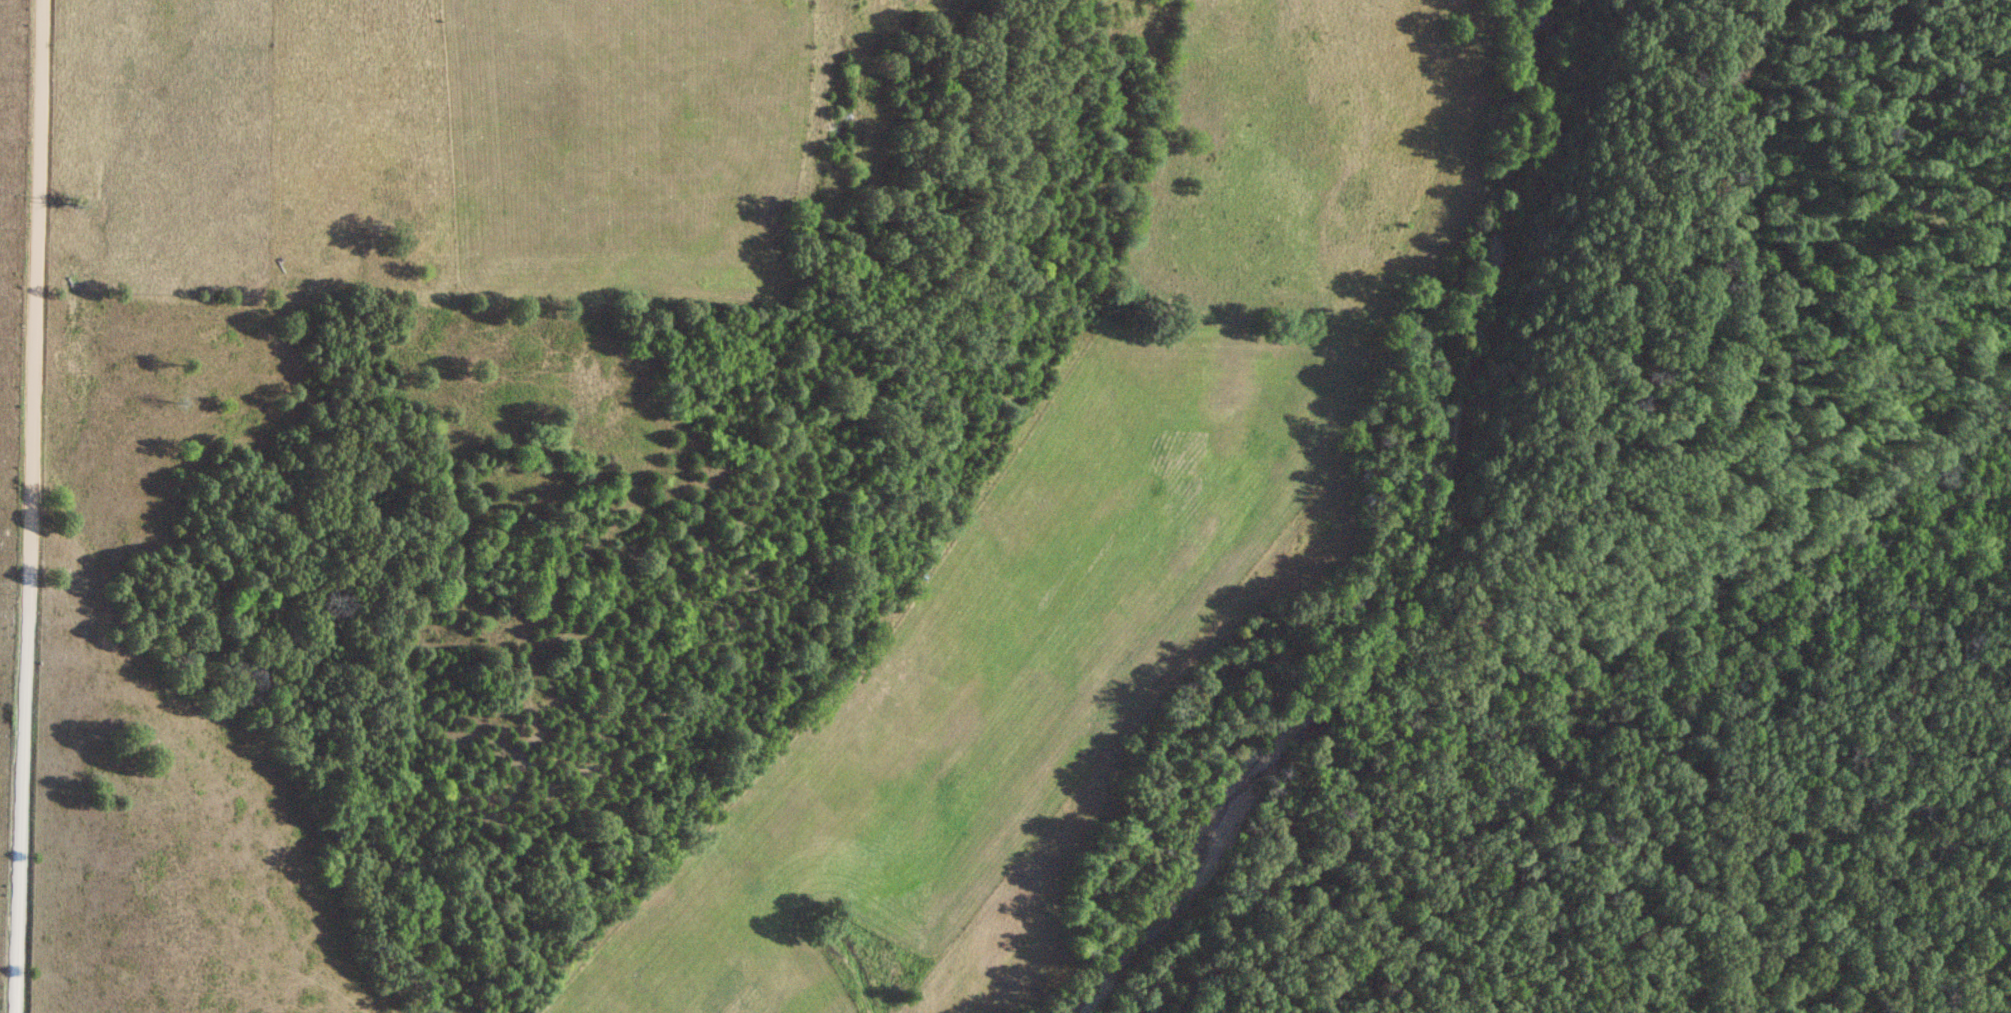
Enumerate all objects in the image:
road: (34, 506)

